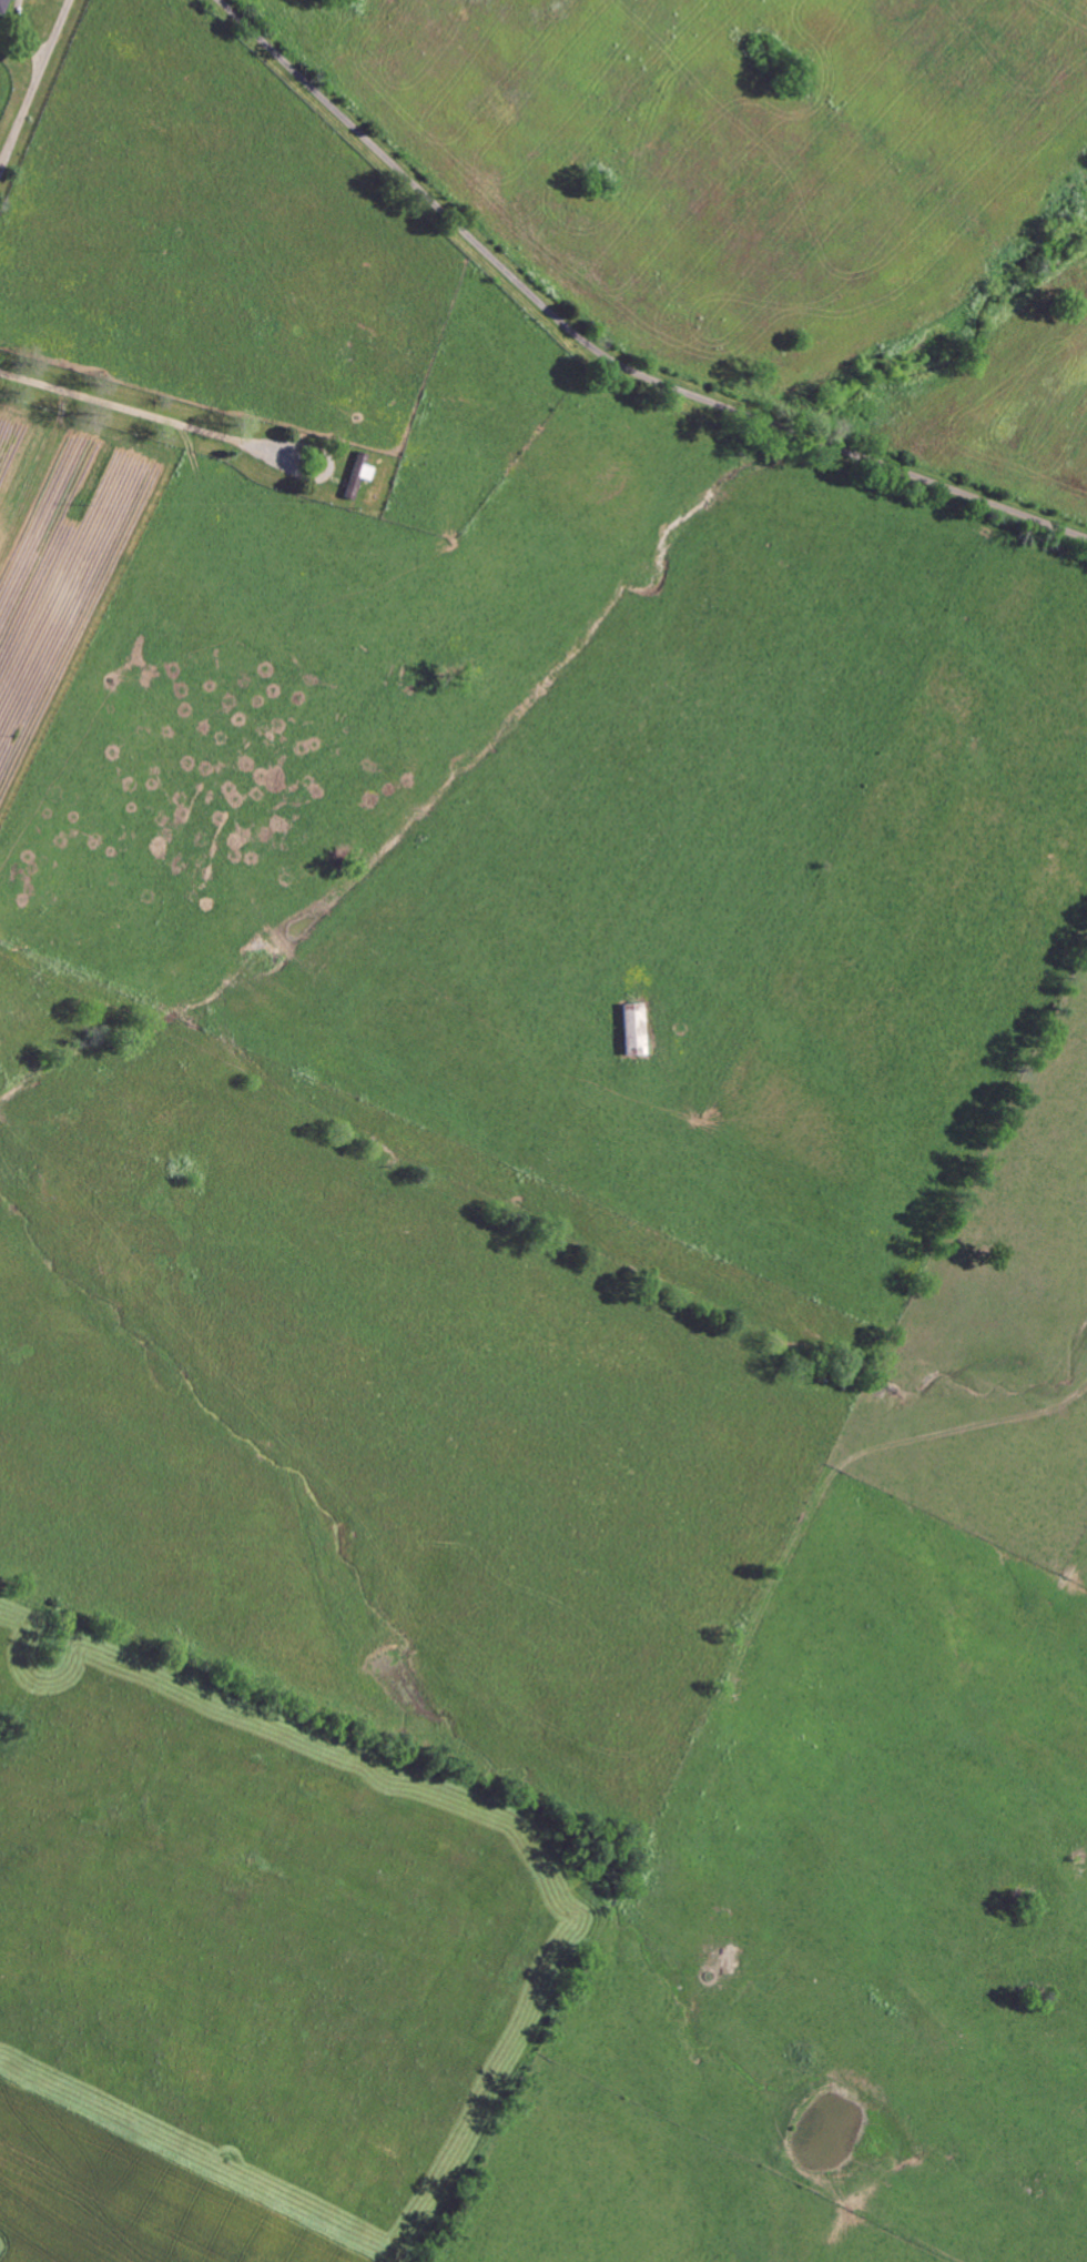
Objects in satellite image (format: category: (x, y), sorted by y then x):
building: (3, 6)
road: (34, 84)
road: (601, 353)
road: (142, 414)
building: (636, 1031)

